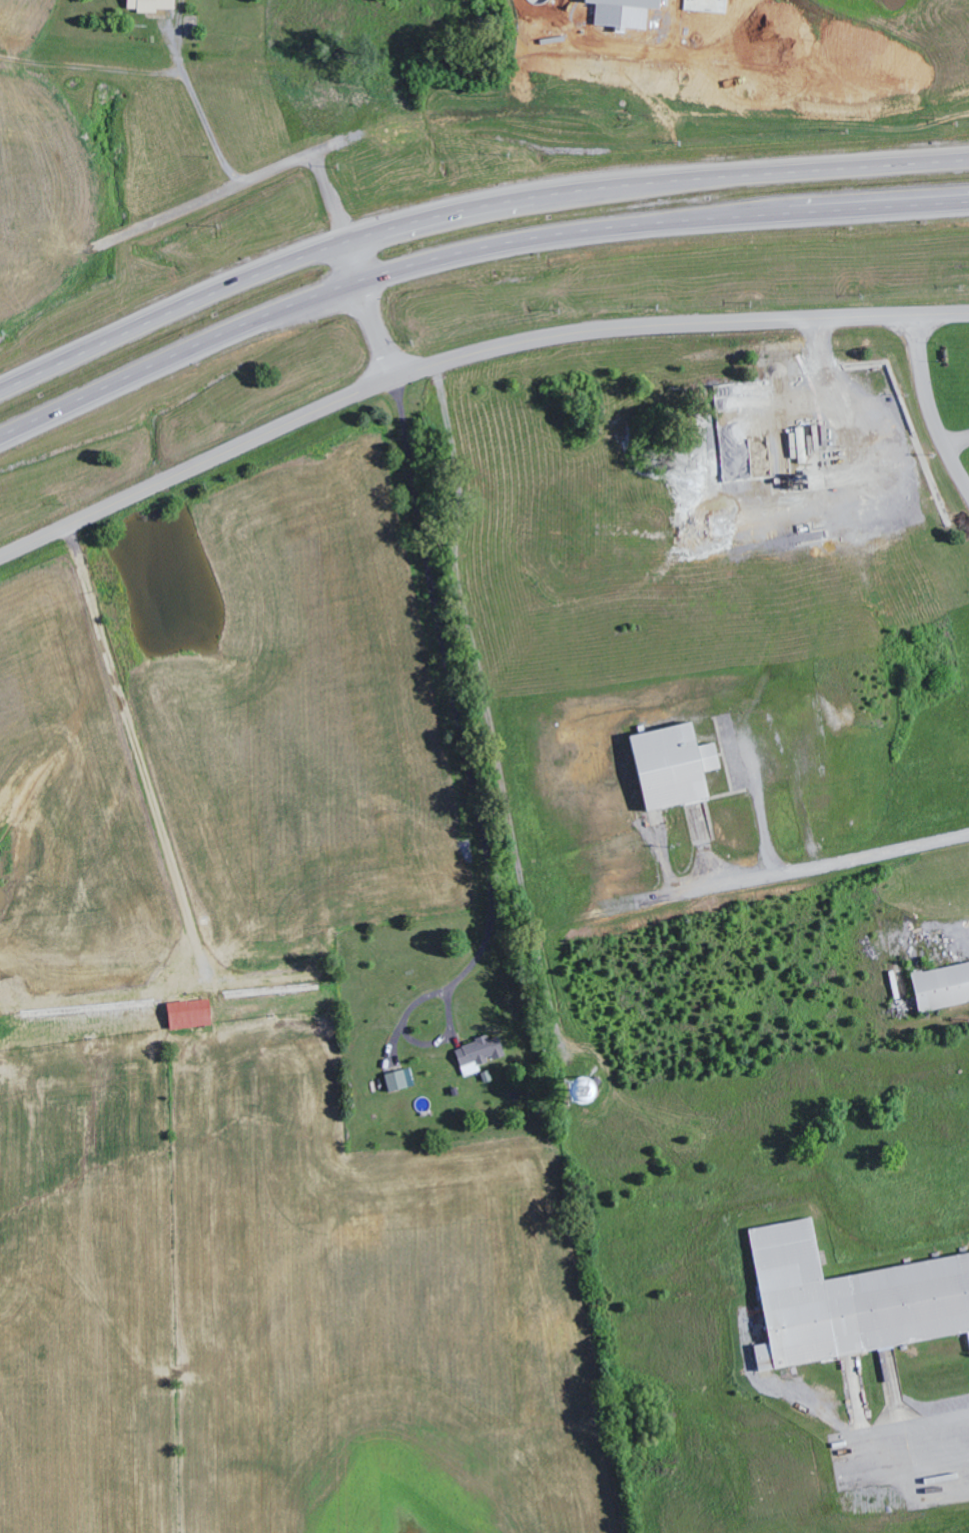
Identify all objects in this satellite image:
building: (152, 6)
building: (625, 12)
road: (219, 193)
road: (331, 196)
road: (468, 209)
road: (467, 254)
road: (367, 311)
road: (465, 356)
road: (929, 407)
building: (676, 765)
road: (470, 770)
building: (943, 986)
building: (191, 1014)
building: (480, 1054)
building: (401, 1080)
building: (590, 1088)
building: (851, 1300)
road: (914, 1427)

